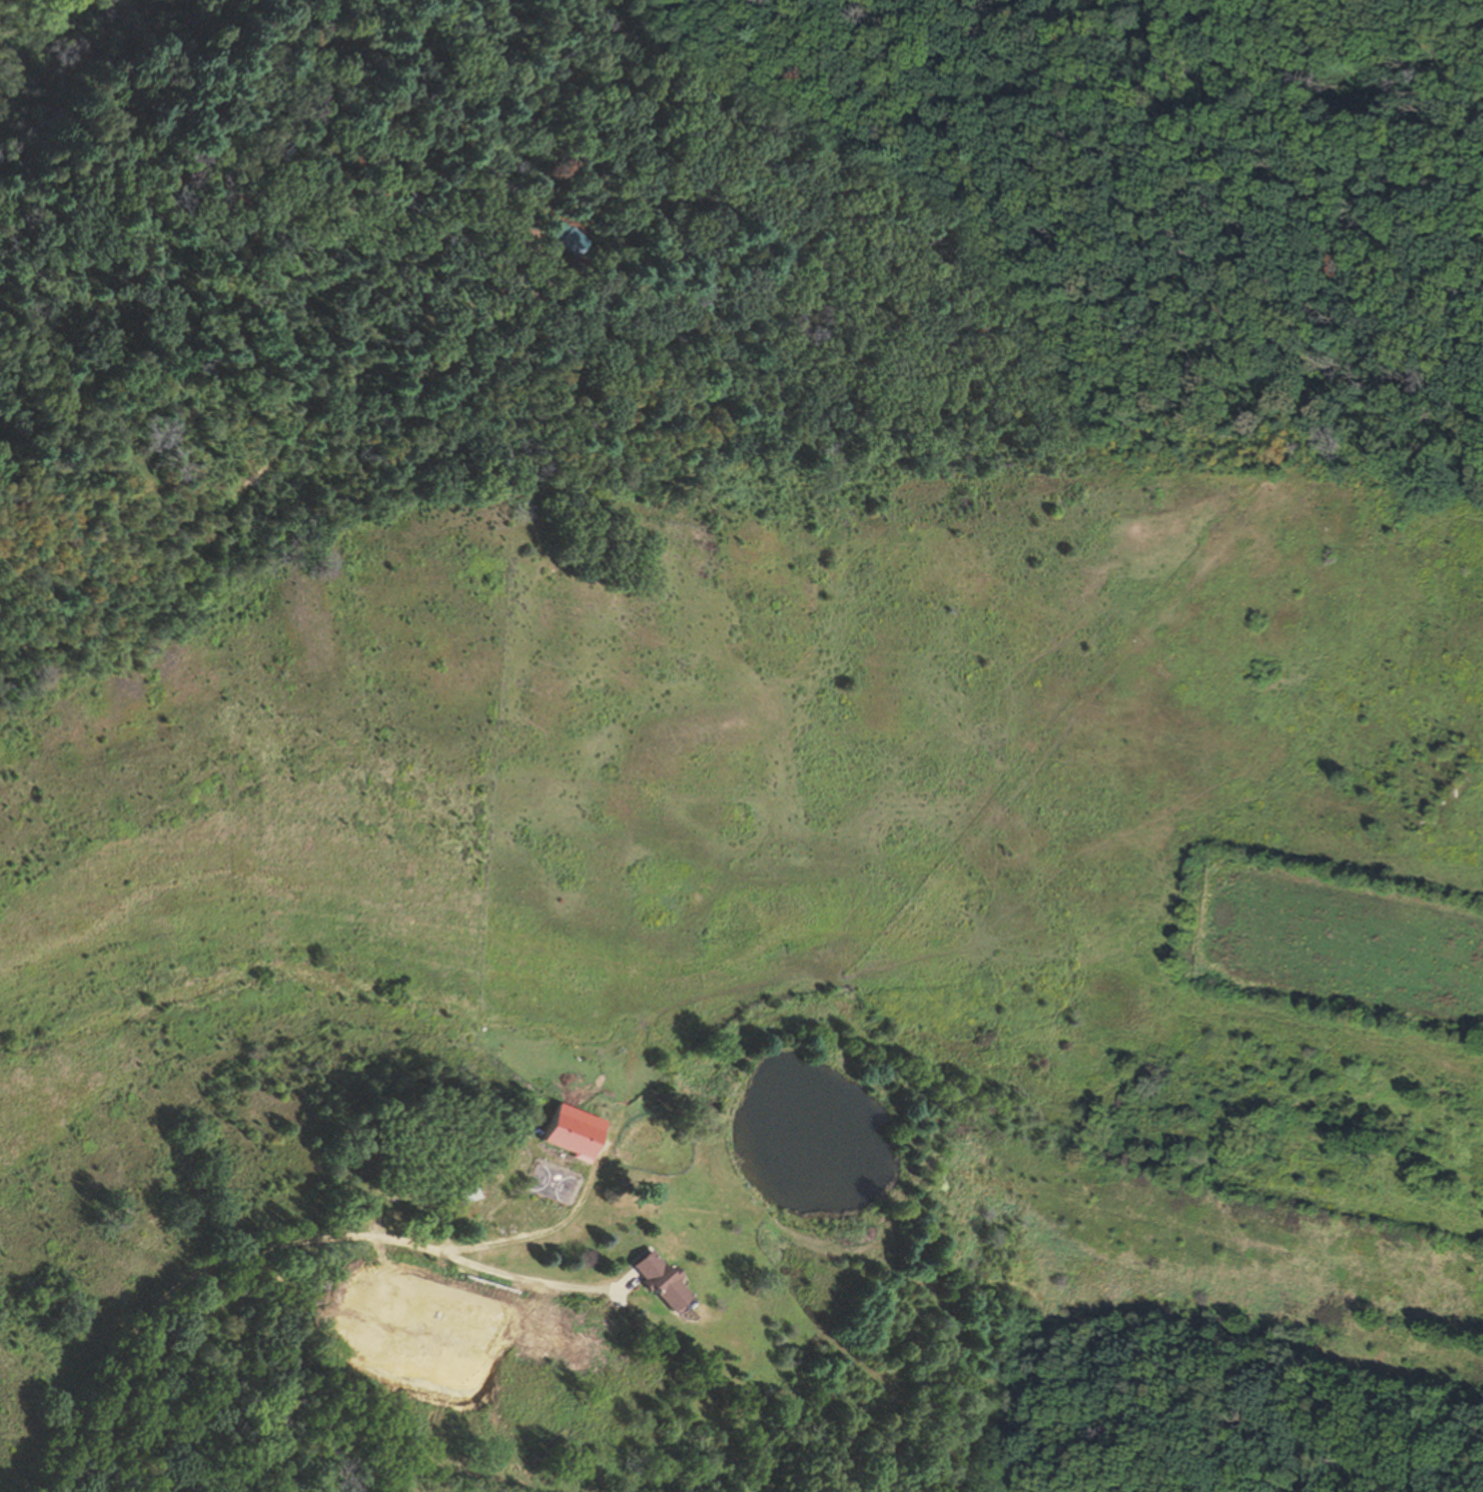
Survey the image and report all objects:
building: (565, 238)
building: (566, 1131)
building: (460, 1196)
road: (279, 1245)
building: (658, 1281)

